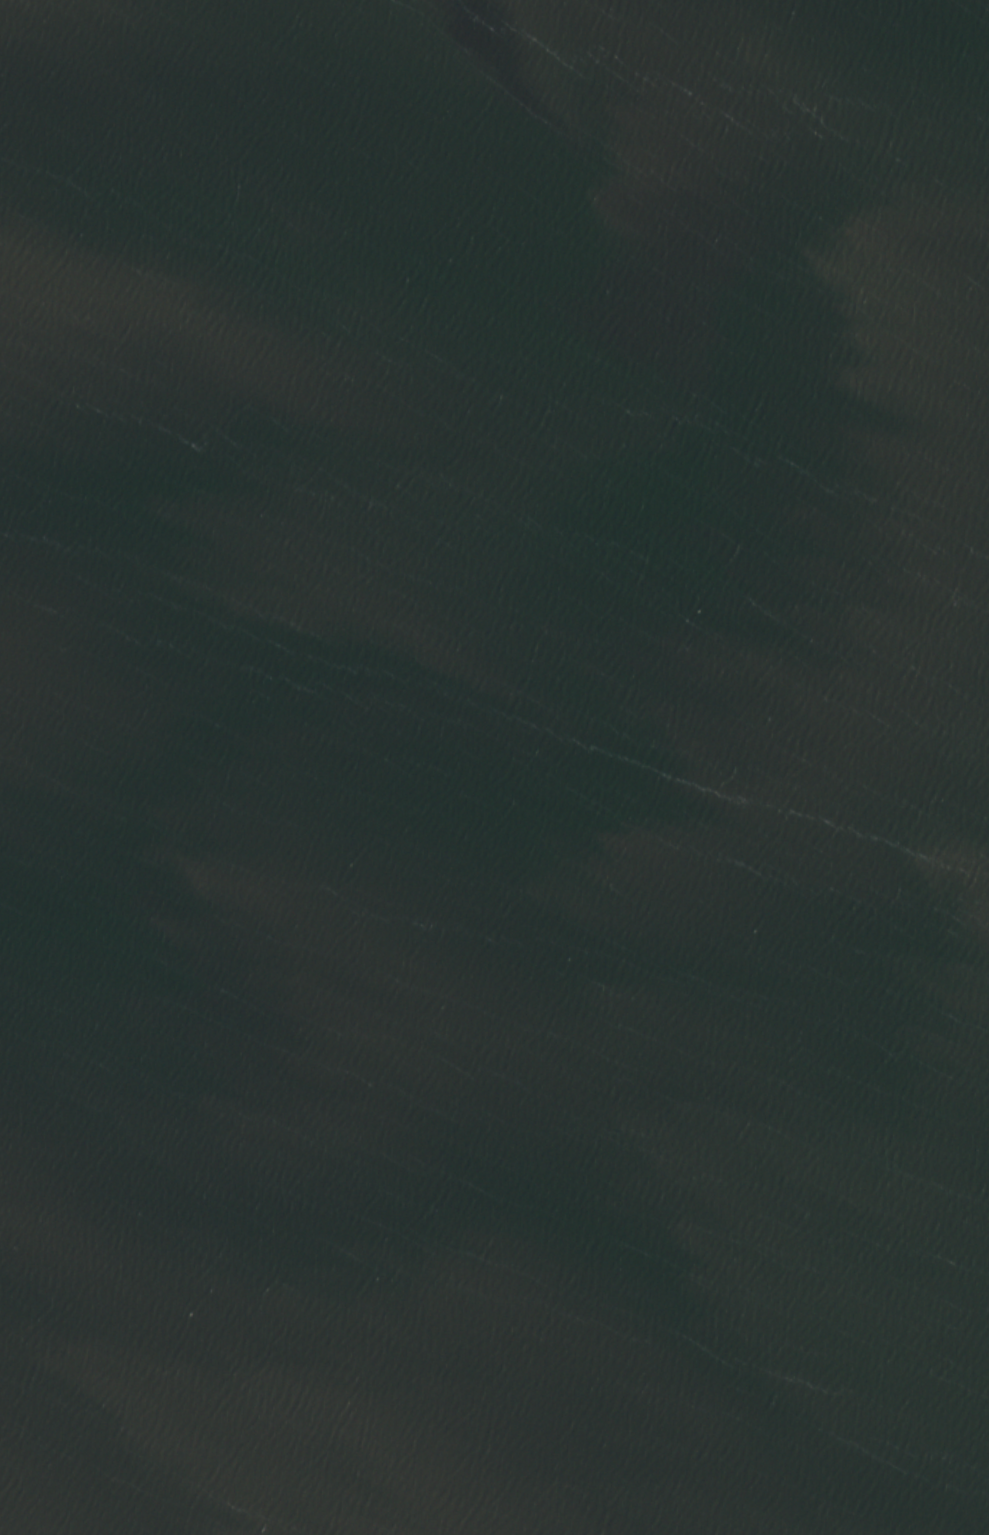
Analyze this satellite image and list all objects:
river: (494, 719)

